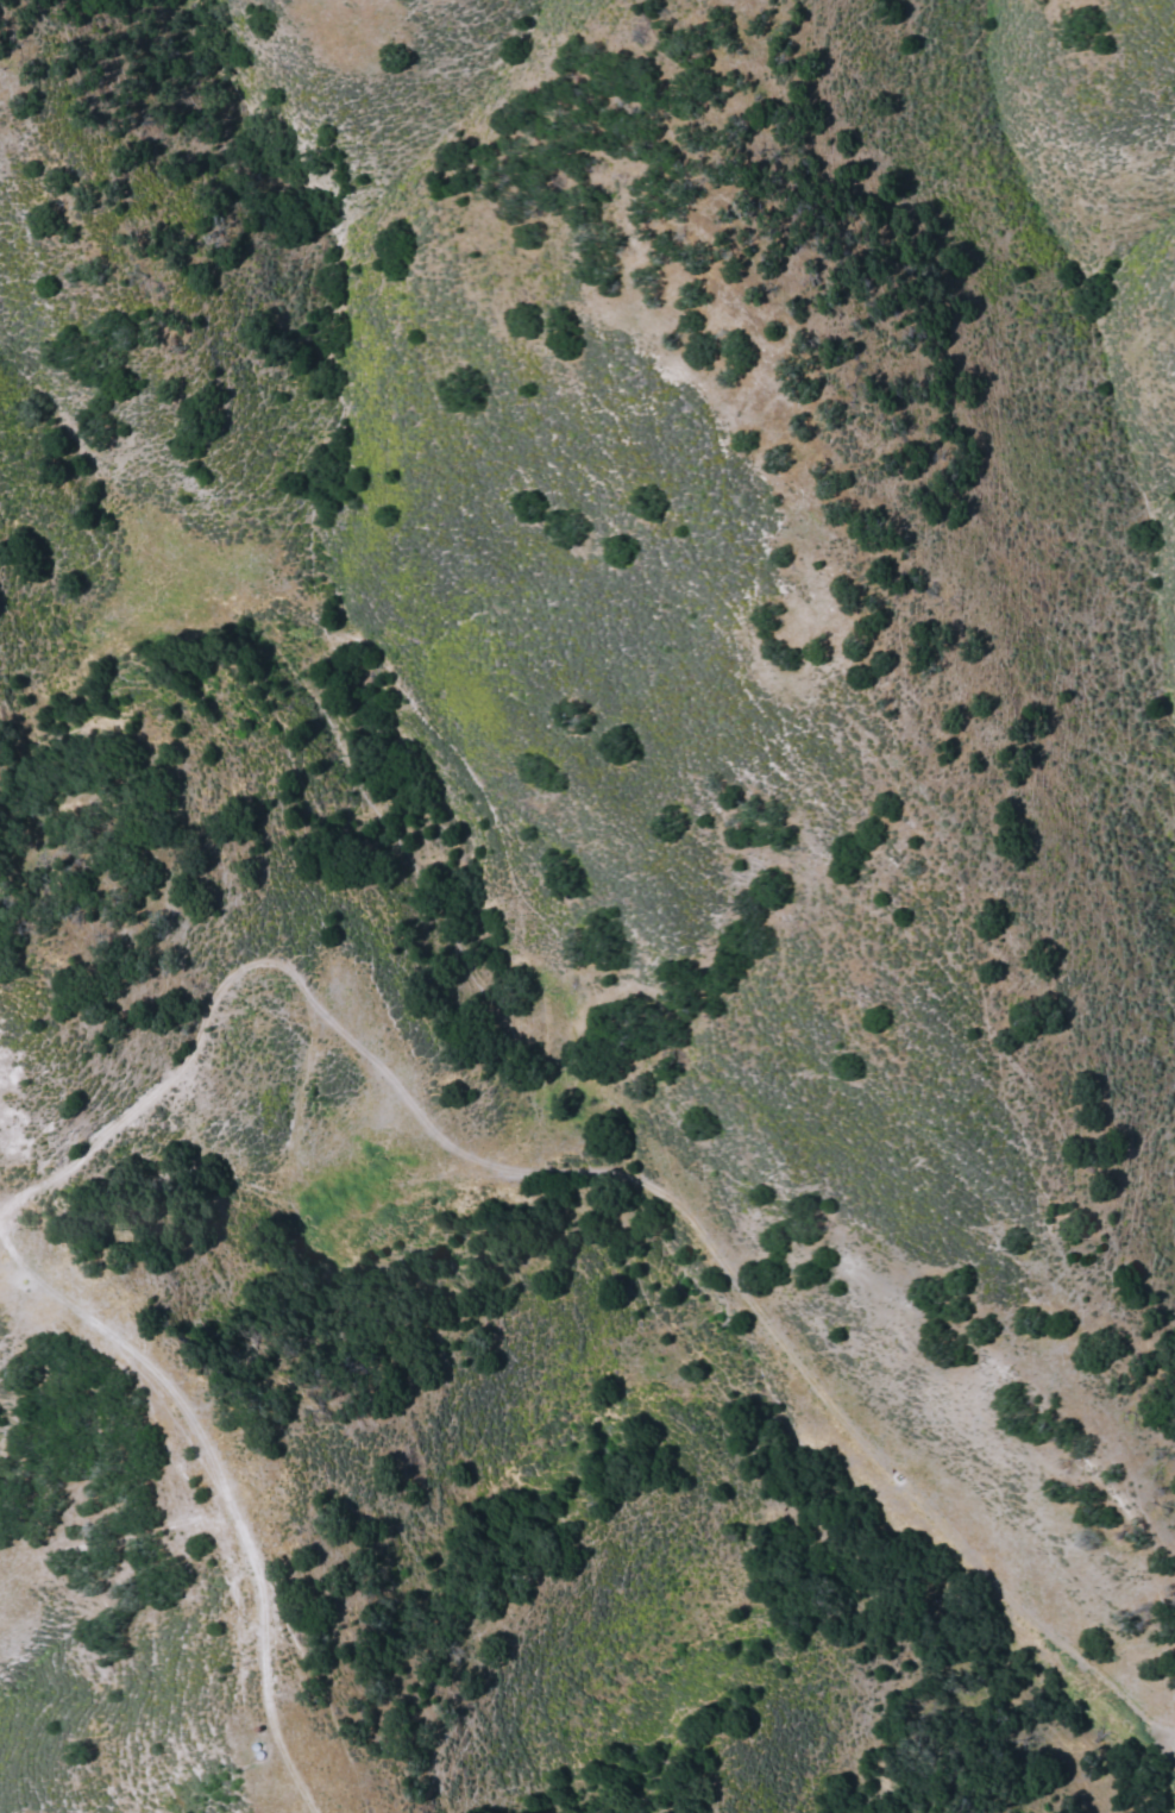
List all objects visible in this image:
road: (233, 1480)

